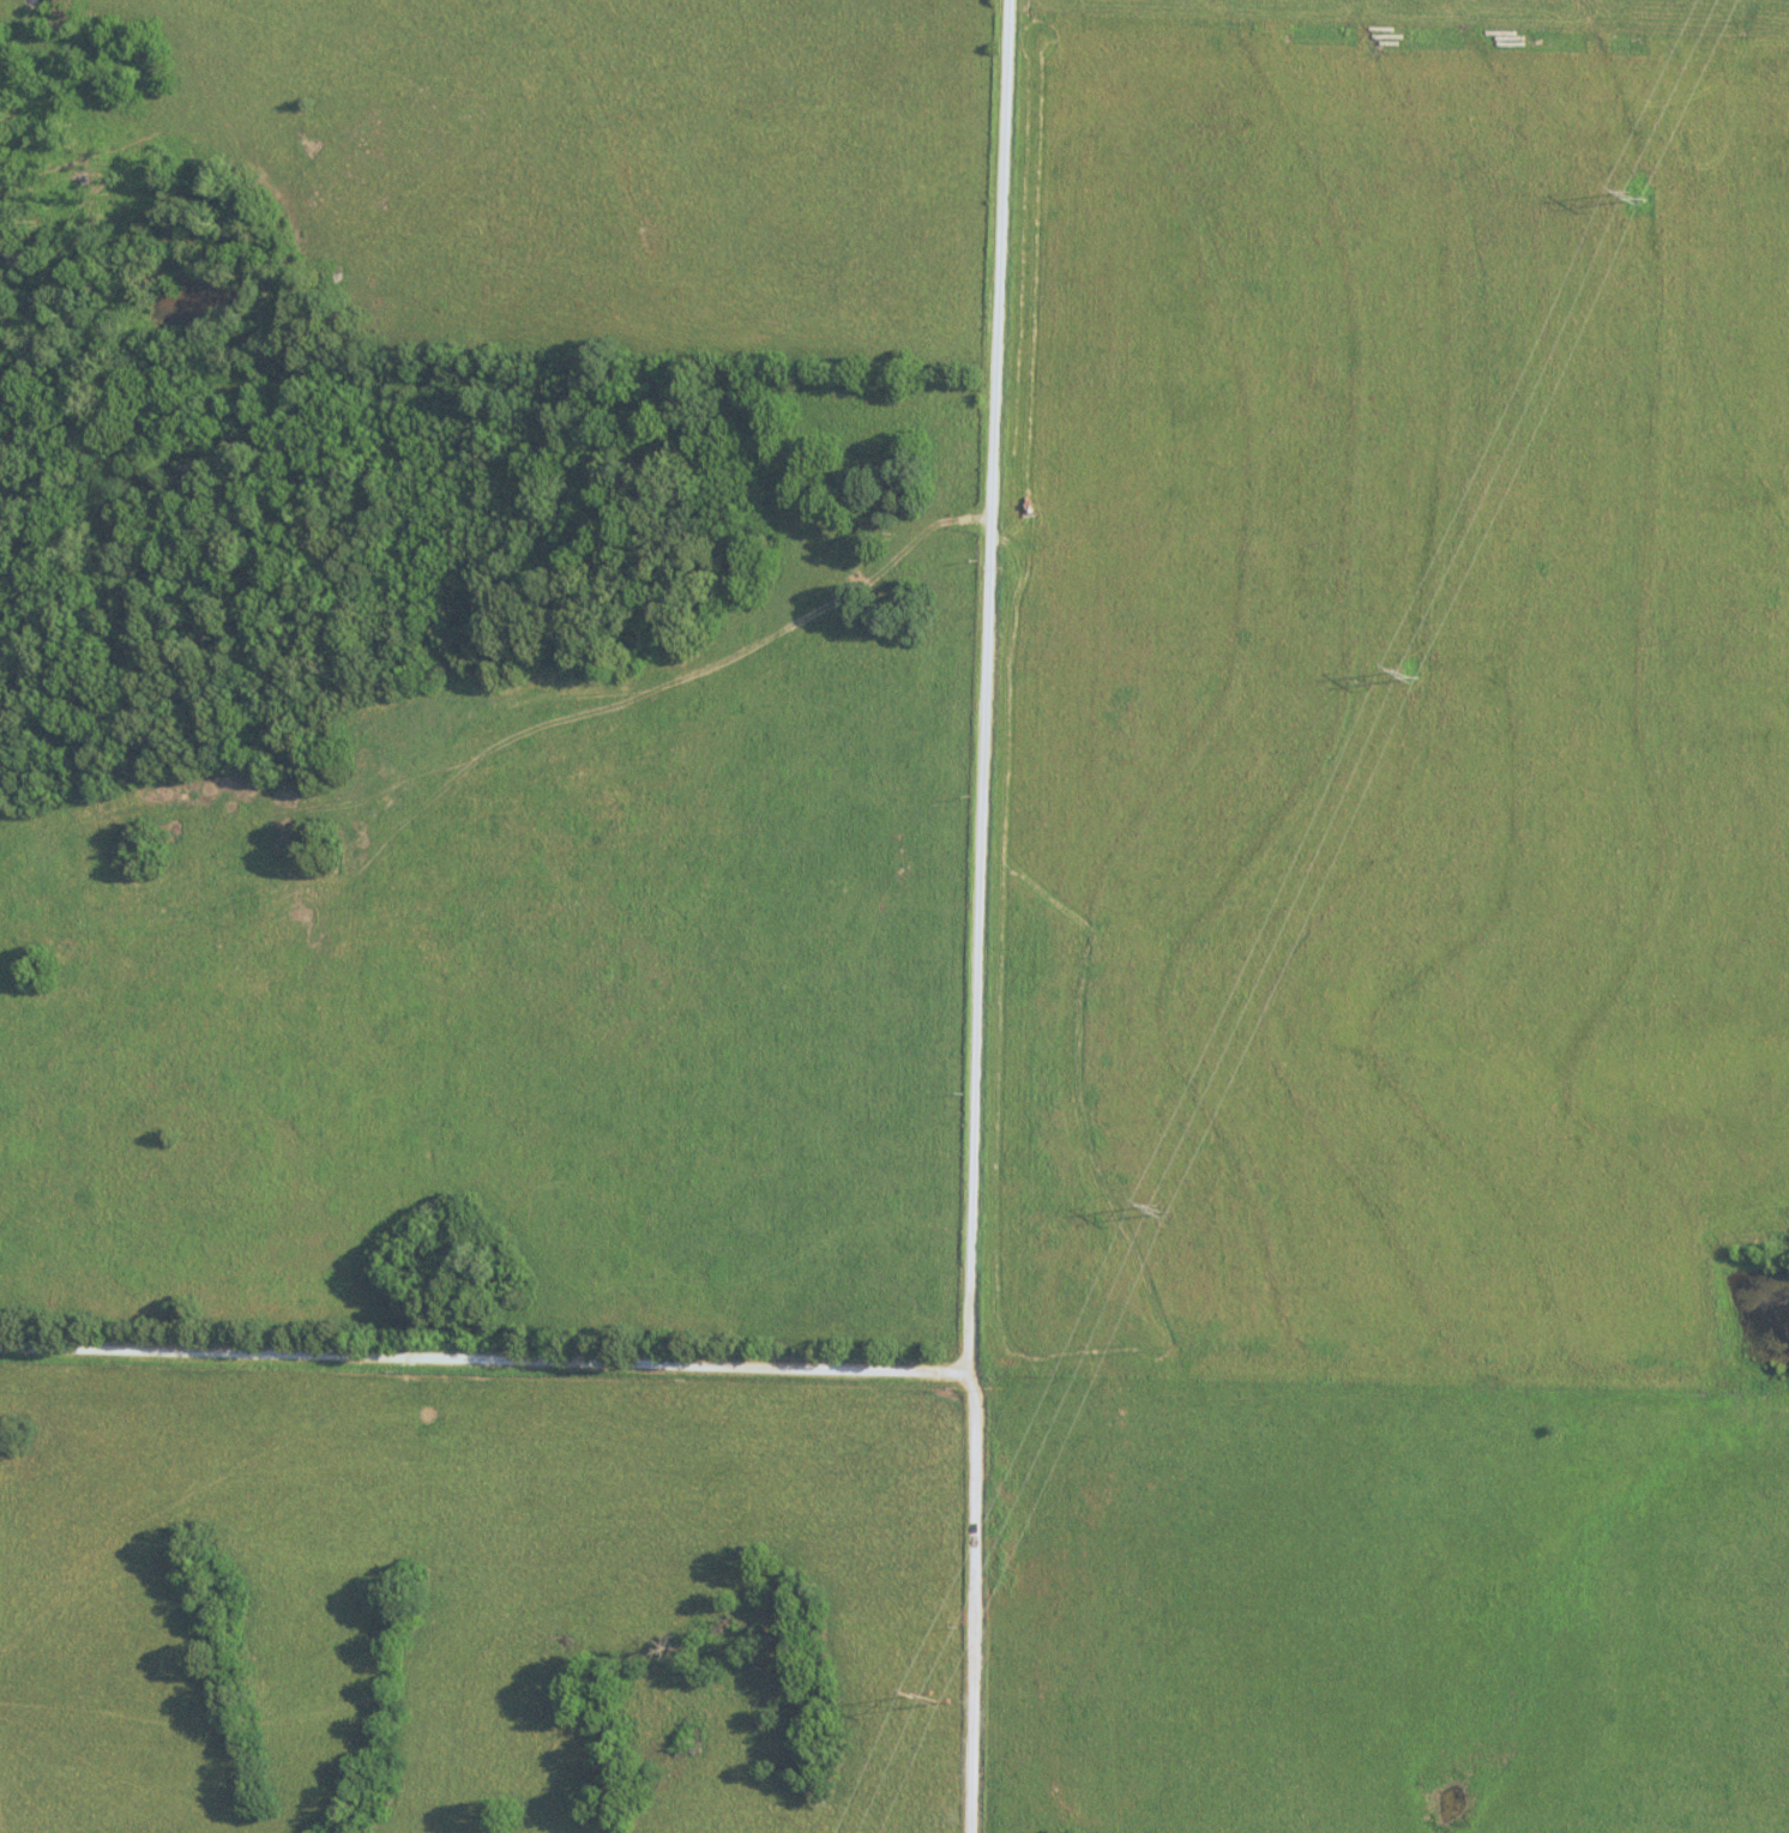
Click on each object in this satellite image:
power tower: (1637, 195)
power tower: (1409, 671)
road: (987, 916)
power tower: (1159, 1207)
road: (486, 1361)
power tower: (939, 1692)

